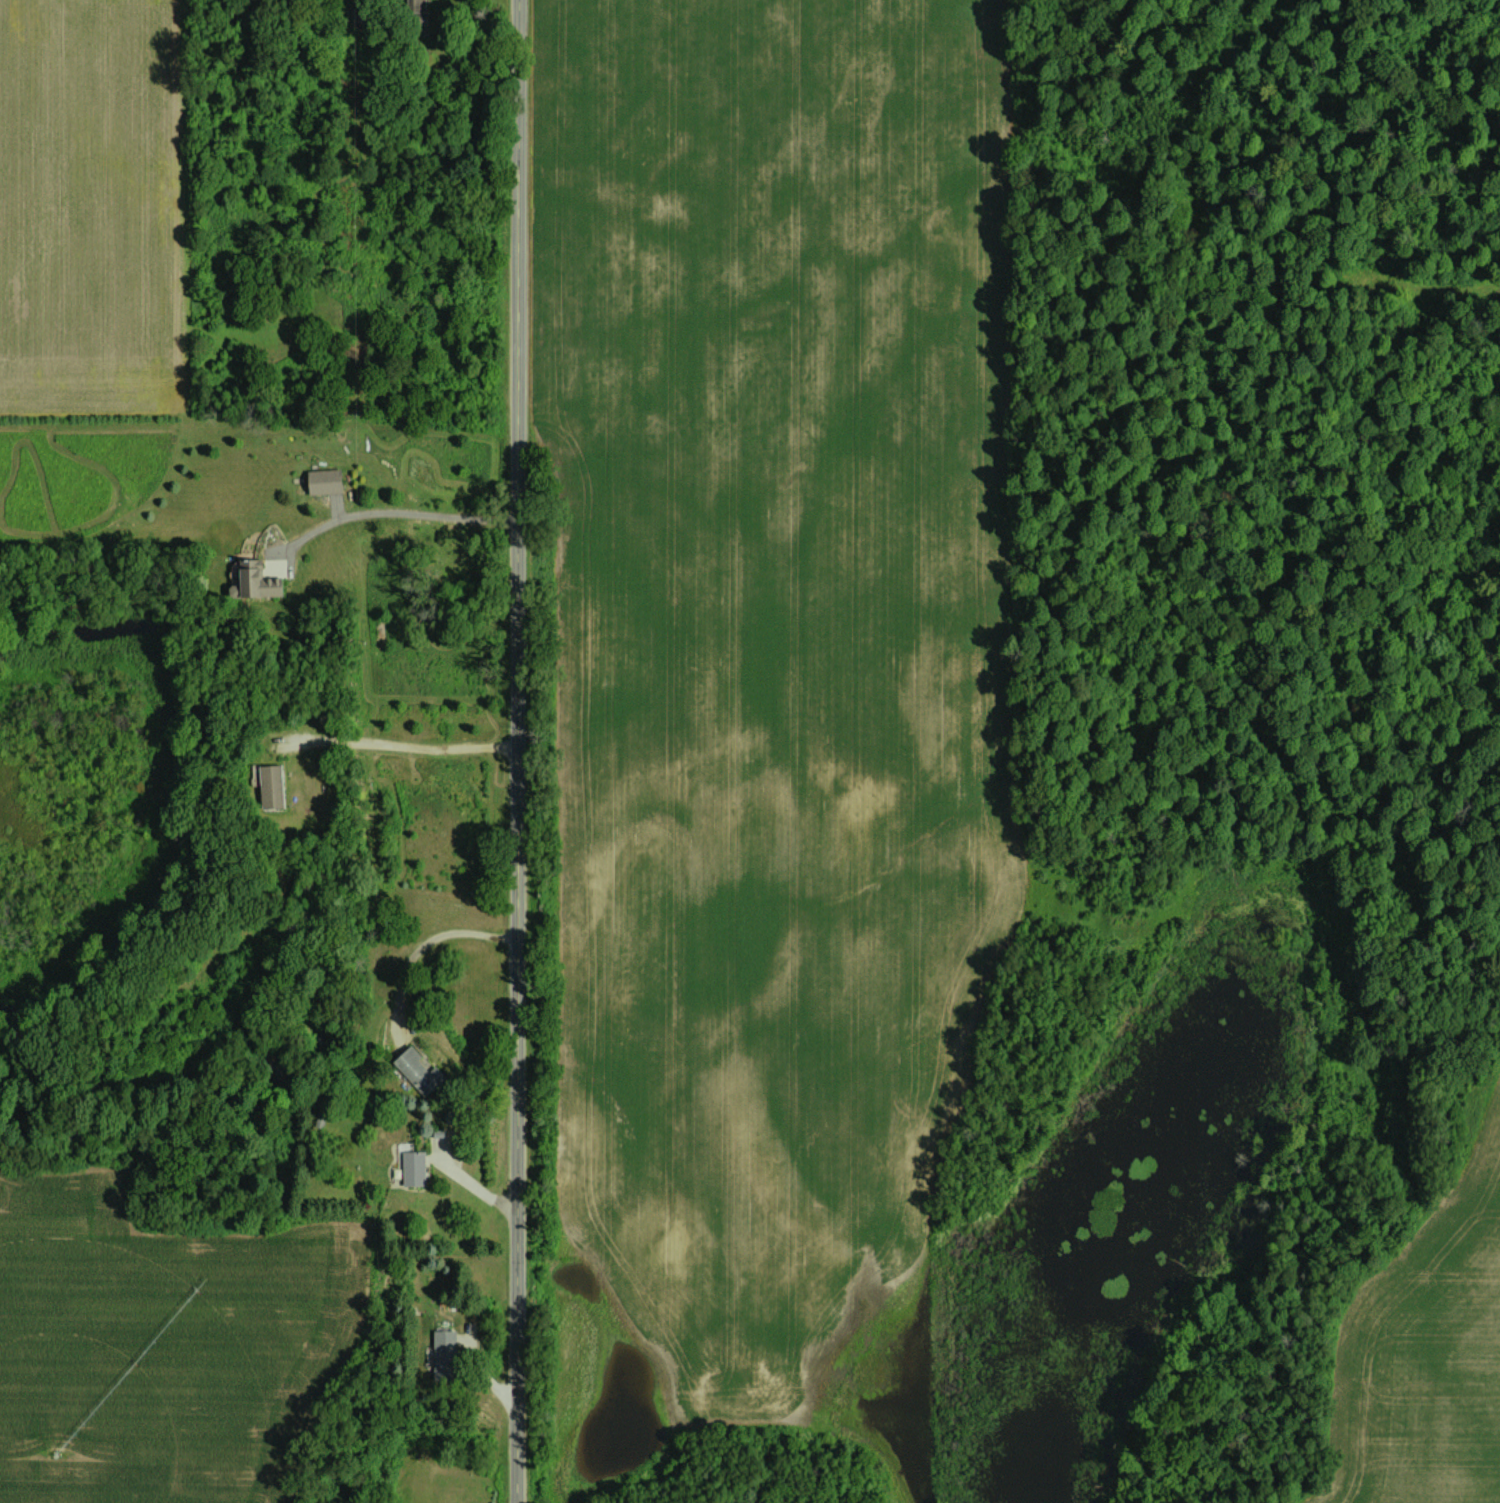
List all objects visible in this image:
building: (414, 6)
building: (322, 480)
road: (396, 512)
building: (255, 579)
road: (400, 751)
road: (518, 751)
building: (270, 786)
road: (429, 946)
building: (417, 1071)
building: (411, 1168)
building: (442, 1353)

